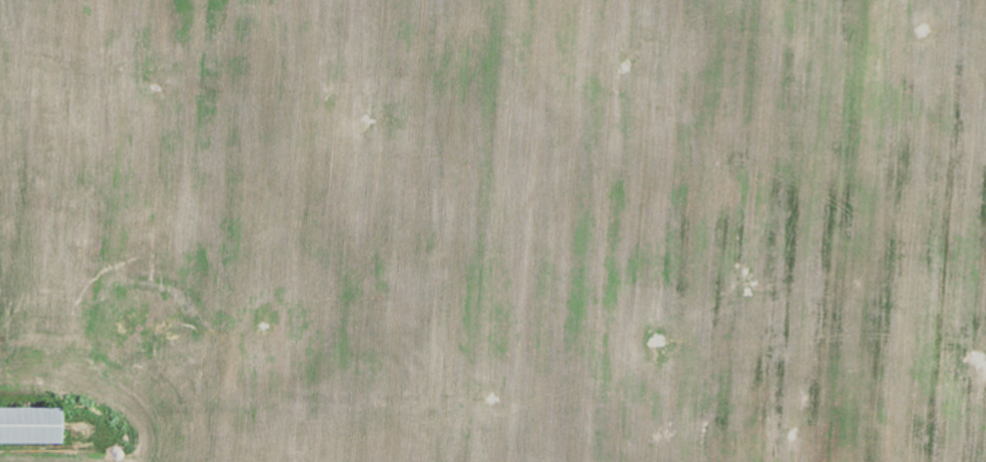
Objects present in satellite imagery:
building: (29, 425)

